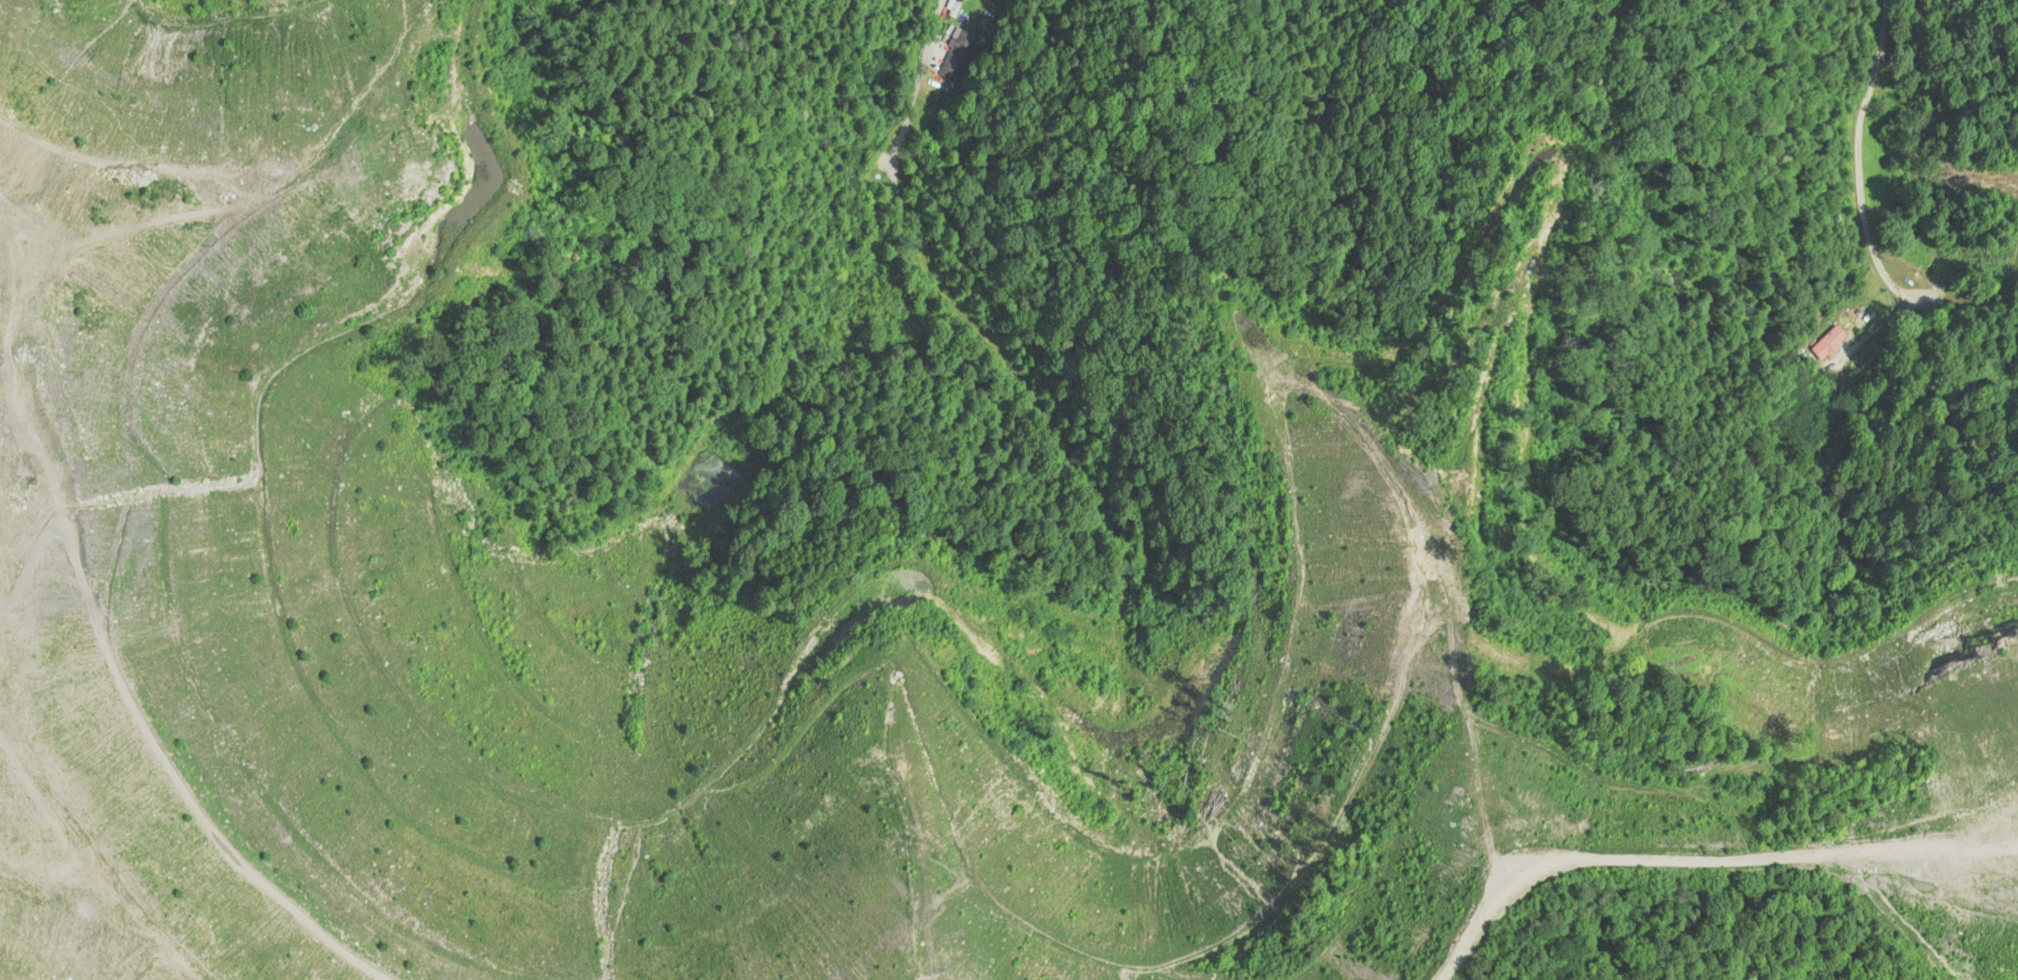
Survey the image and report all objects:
road: (1472, 25)
road: (1916, 92)
road: (867, 93)
building: (1831, 343)

